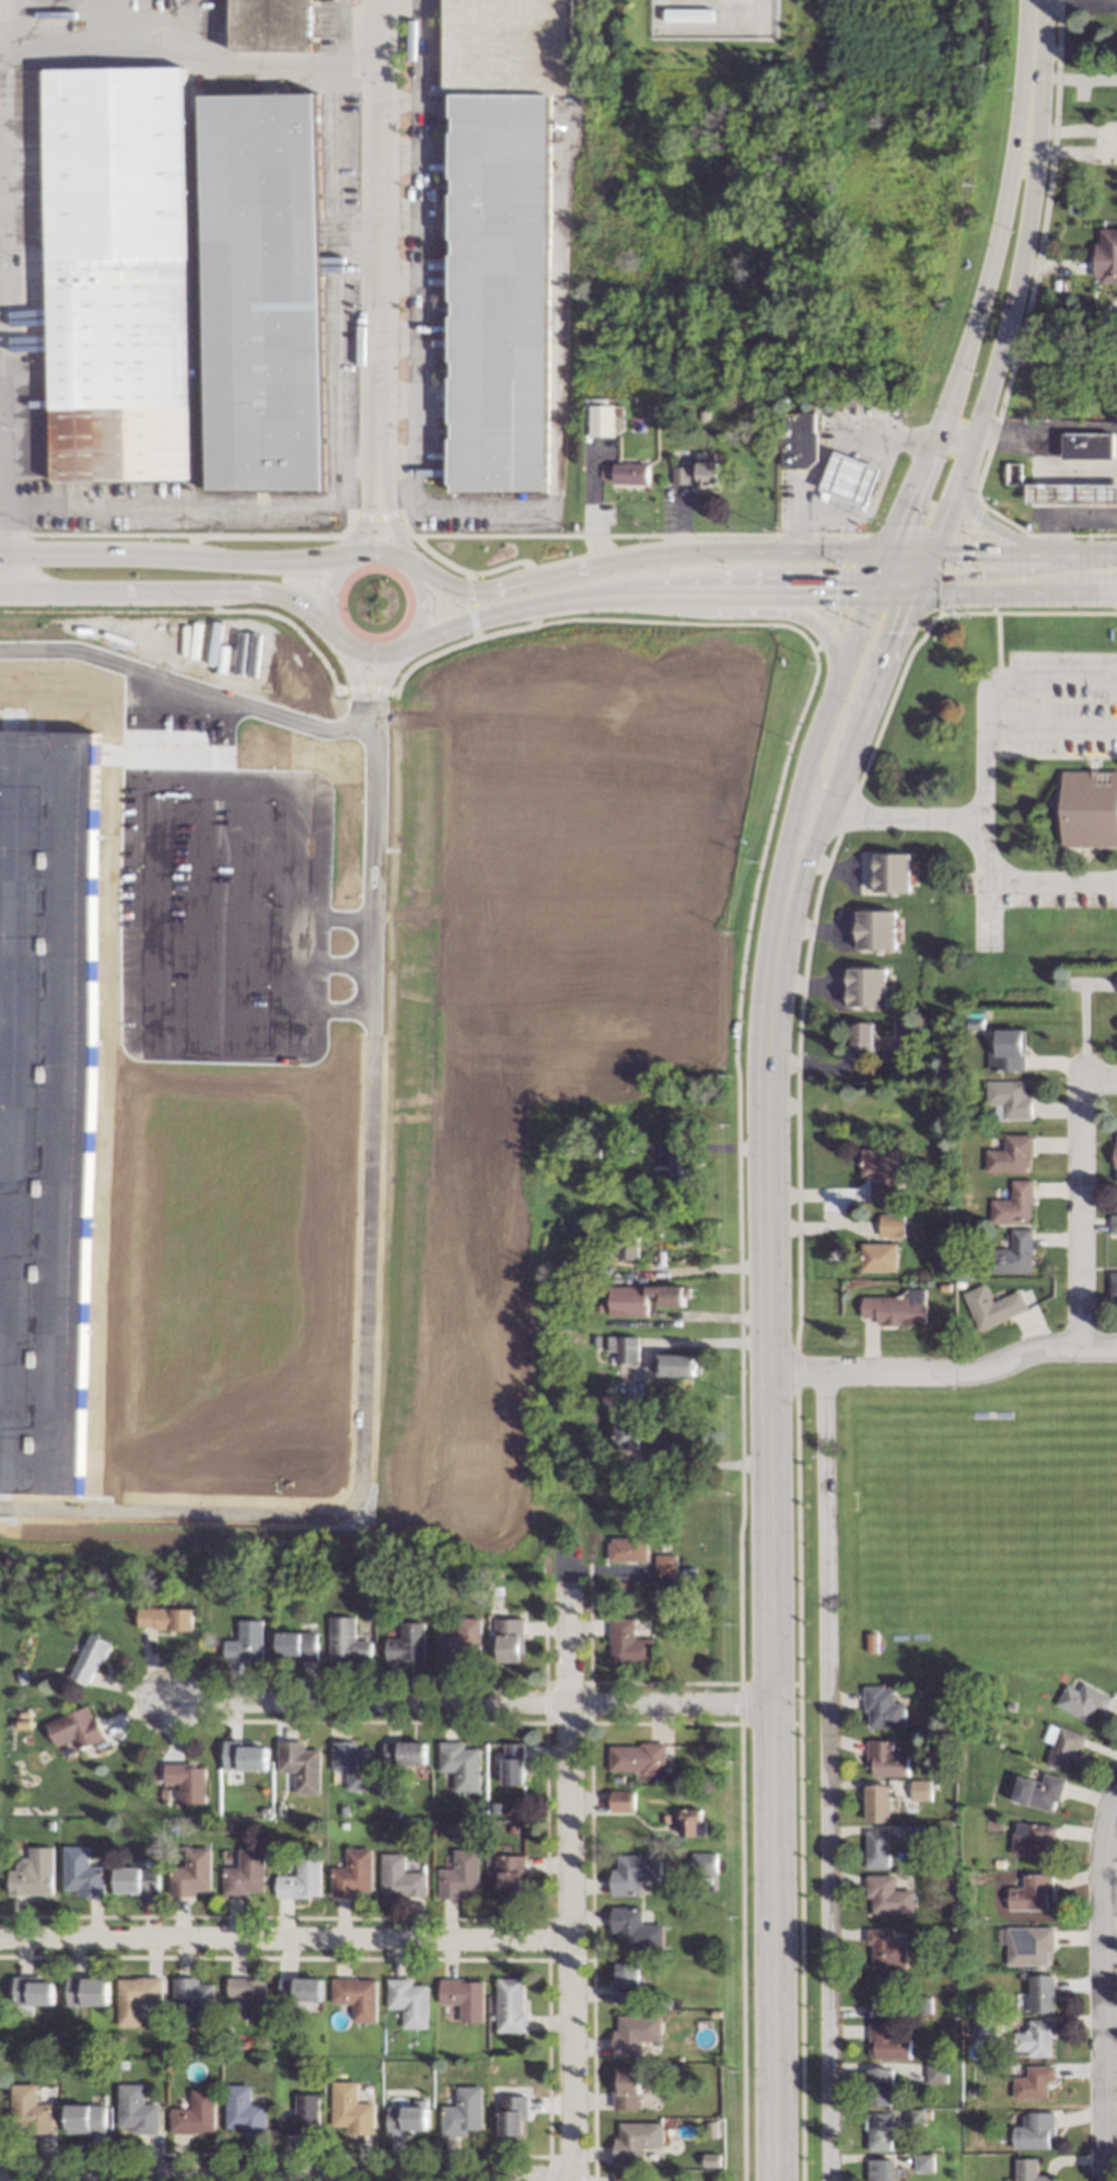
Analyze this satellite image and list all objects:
road: (1033, 15)
building: (713, 18)
power substation: (713, 18)
building: (271, 24)
road: (181, 51)
road: (392, 103)
road: (392, 153)
road: (393, 214)
road: (371, 233)
building: (501, 234)
road: (994, 242)
road: (415, 250)
building: (1106, 255)
road: (1020, 266)
building: (118, 274)
road: (393, 276)
building: (264, 291)
road: (394, 336)
road: (1057, 362)
road: (395, 397)
road: (552, 404)
building: (650, 406)
building: (705, 414)
building: (604, 417)
road: (956, 430)
building: (800, 438)
road: (337, 440)
building: (1089, 444)
road: (829, 451)
road: (1040, 462)
road: (356, 467)
building: (701, 471)
building: (632, 473)
building: (849, 478)
building: (1072, 491)
road: (7, 497)
road: (908, 498)
road: (870, 507)
road: (387, 512)
road: (365, 513)
road: (1070, 517)
road: (376, 518)
road: (940, 523)
traffic signals: (897, 526)
road: (1008, 534)
road: (287, 535)
road: (191, 545)
road: (426, 547)
road: (375, 550)
road: (776, 550)
road: (908, 552)
road: (168, 554)
traffic signals: (969, 554)
road: (1000, 554)
road: (1095, 556)
road: (504, 564)
road: (922, 565)
road: (656, 570)
road: (880, 571)
road: (1002, 571)
road: (7, 573)
road: (535, 573)
traffic signals: (962, 575)
road: (893, 580)
road: (914, 584)
road: (682, 588)
road: (793, 589)
traffic signals: (835, 589)
road: (325, 590)
road: (891, 591)
road: (168, 592)
road: (1013, 592)
road: (3, 594)
road: (211, 601)
road: (469, 605)
road: (423, 606)
road: (524, 606)
road: (710, 611)
road: (536, 614)
road: (292, 626)
traffic signals: (894, 630)
road: (826, 636)
road: (455, 646)
road: (359, 648)
road: (884, 656)
road: (998, 662)
road: (349, 674)
road: (380, 682)
road: (185, 684)
road: (364, 686)
road: (1010, 732)
road: (807, 761)
road: (812, 805)
building: (1089, 807)
road: (963, 822)
road: (819, 830)
building: (894, 870)
road: (1051, 886)
parking lot: (220, 915)
building: (877, 928)
building: (869, 986)
building: (978, 1013)
building: (976, 1022)
building: (908, 1031)
building: (863, 1037)
building: (1009, 1051)
building: (910, 1071)
road: (1099, 1081)
building: (45, 1099)
building: (1010, 1099)
building: (621, 1148)
building: (594, 1149)
building: (1011, 1153)
building: (1116, 1153)
building: (684, 1164)
building: (881, 1172)
building: (1116, 1173)
building: (1015, 1204)
road: (1081, 1213)
building: (1114, 1223)
building: (891, 1226)
building: (598, 1237)
building: (629, 1245)
building: (1015, 1253)
building: (880, 1256)
road: (740, 1262)
road: (718, 1272)
building: (1114, 1285)
building: (945, 1286)
road: (360, 1287)
building: (671, 1293)
building: (994, 1306)
building: (898, 1308)
road: (719, 1320)
building: (596, 1339)
road: (711, 1344)
building: (628, 1348)
building: (679, 1364)
road: (950, 1370)
building: (609, 1387)
building: (627, 1409)
building: (627, 1434)
building: (683, 1448)
road: (711, 1467)
park: (987, 1498)
building: (664, 1522)
park: (977, 1523)
building: (627, 1547)
road: (780, 1559)
building: (665, 1563)
building: (168, 1617)
building: (510, 1638)
building: (348, 1639)
building: (248, 1640)
building: (461, 1640)
building: (628, 1641)
building: (407, 1643)
building: (300, 1644)
building: (93, 1658)
building: (22, 1675)
building: (920, 1690)
building: (1082, 1699)
road: (478, 1704)
building: (884, 1706)
building: (24, 1724)
building: (78, 1728)
building: (1062, 1745)
building: (405, 1752)
building: (244, 1755)
building: (639, 1757)
building: (885, 1759)
building: (353, 1763)
building: (513, 1763)
building: (461, 1764)
building: (300, 1765)
road: (828, 1776)
building: (617, 1778)
building: (188, 1780)
building: (920, 1789)
building: (1036, 1789)
building: (165, 1793)
building: (621, 1800)
building: (877, 1801)
building: (342, 1808)
building: (279, 1809)
building: (394, 1815)
building: (664, 1818)
building: (691, 1822)
building: (50, 1824)
building: (225, 1825)
building: (915, 1832)
building: (1032, 1837)
building: (877, 1847)
building: (703, 1861)
building: (998, 1861)
road: (569, 1866)
building: (677, 1868)
building: (83, 1871)
building: (194, 1871)
building: (633, 1871)
building: (34, 1873)
building: (245, 1873)
building: (353, 1873)
building: (459, 1875)
building: (510, 1875)
building: (400, 1877)
building: (301, 1879)
building: (138, 1880)
building: (1031, 1892)
building: (888, 1893)
building: (954, 1907)
road: (284, 1916)
building: (635, 1928)
road: (284, 1936)
building: (1027, 1945)
building: (887, 1948)
building: (1021, 1974)
building: (625, 1982)
road: (1099, 1983)
building: (302, 1988)
building: (33, 1989)
building: (88, 1989)
building: (877, 1989)
building: (1042, 1993)
building: (249, 1994)
building: (357, 1996)
building: (137, 1997)
building: (463, 1997)
building: (195, 1999)
building: (408, 2000)
building: (663, 2002)
building: (922, 2005)
building: (971, 2005)
building: (509, 2006)
building: (982, 2026)
building: (633, 2032)
building: (1035, 2038)
building: (887, 2041)
building: (667, 2055)
building: (71, 2062)
building: (123, 2063)
building: (292, 2064)
building: (502, 2064)
building: (670, 2067)
building: (935, 2072)
building: (1032, 2080)
building: (880, 2086)
building: (628, 2090)
building: (351, 2108)
building: (31, 2109)
building: (138, 2109)
building: (244, 2110)
building: (462, 2112)
building: (196, 2113)
building: (512, 2113)
building: (303, 2114)
building: (915, 2116)
building: (88, 2118)
building: (406, 2118)
building: (710, 2128)
building: (879, 2131)
building: (1033, 2131)
building: (635, 2139)
building: (710, 2159)
building: (924, 2161)
building: (882, 2169)
building: (1028, 2170)
road: (286, 2173)
building: (625, 2177)

